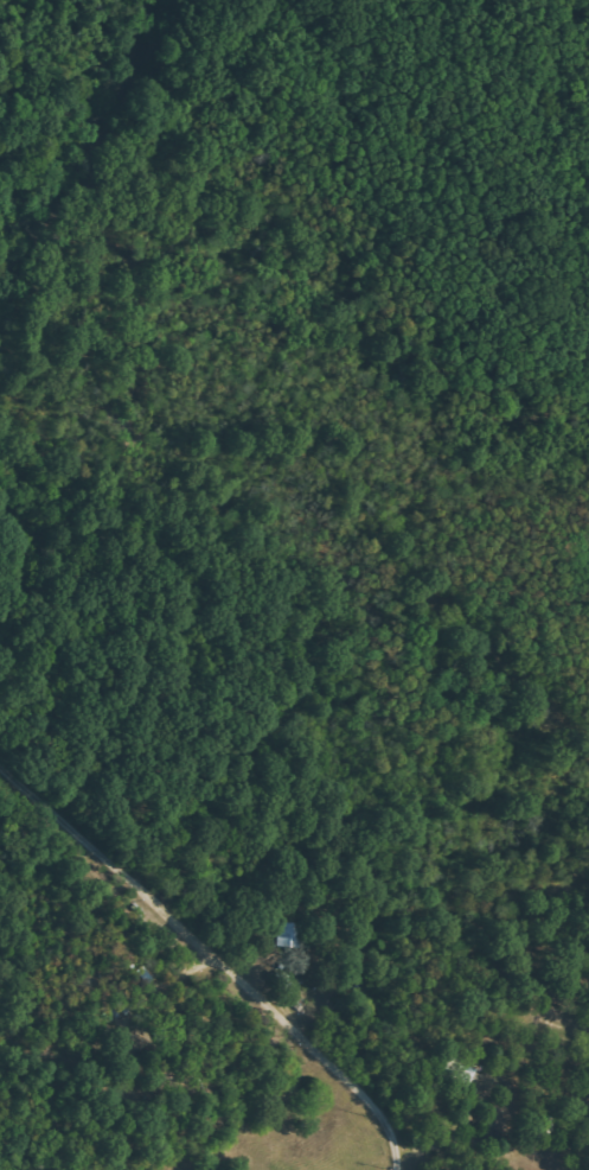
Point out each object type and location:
river: (92, 146)
road: (216, 950)

